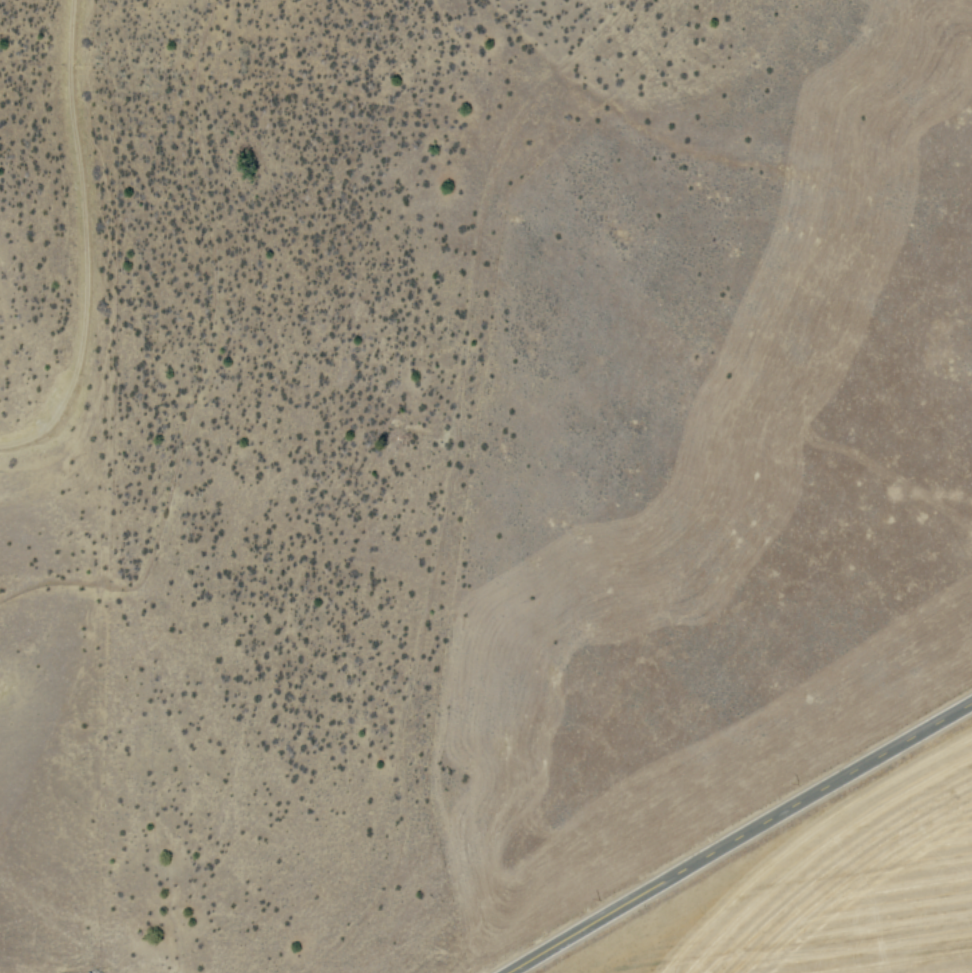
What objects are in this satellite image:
road: (736, 835)
road: (9, 965)

